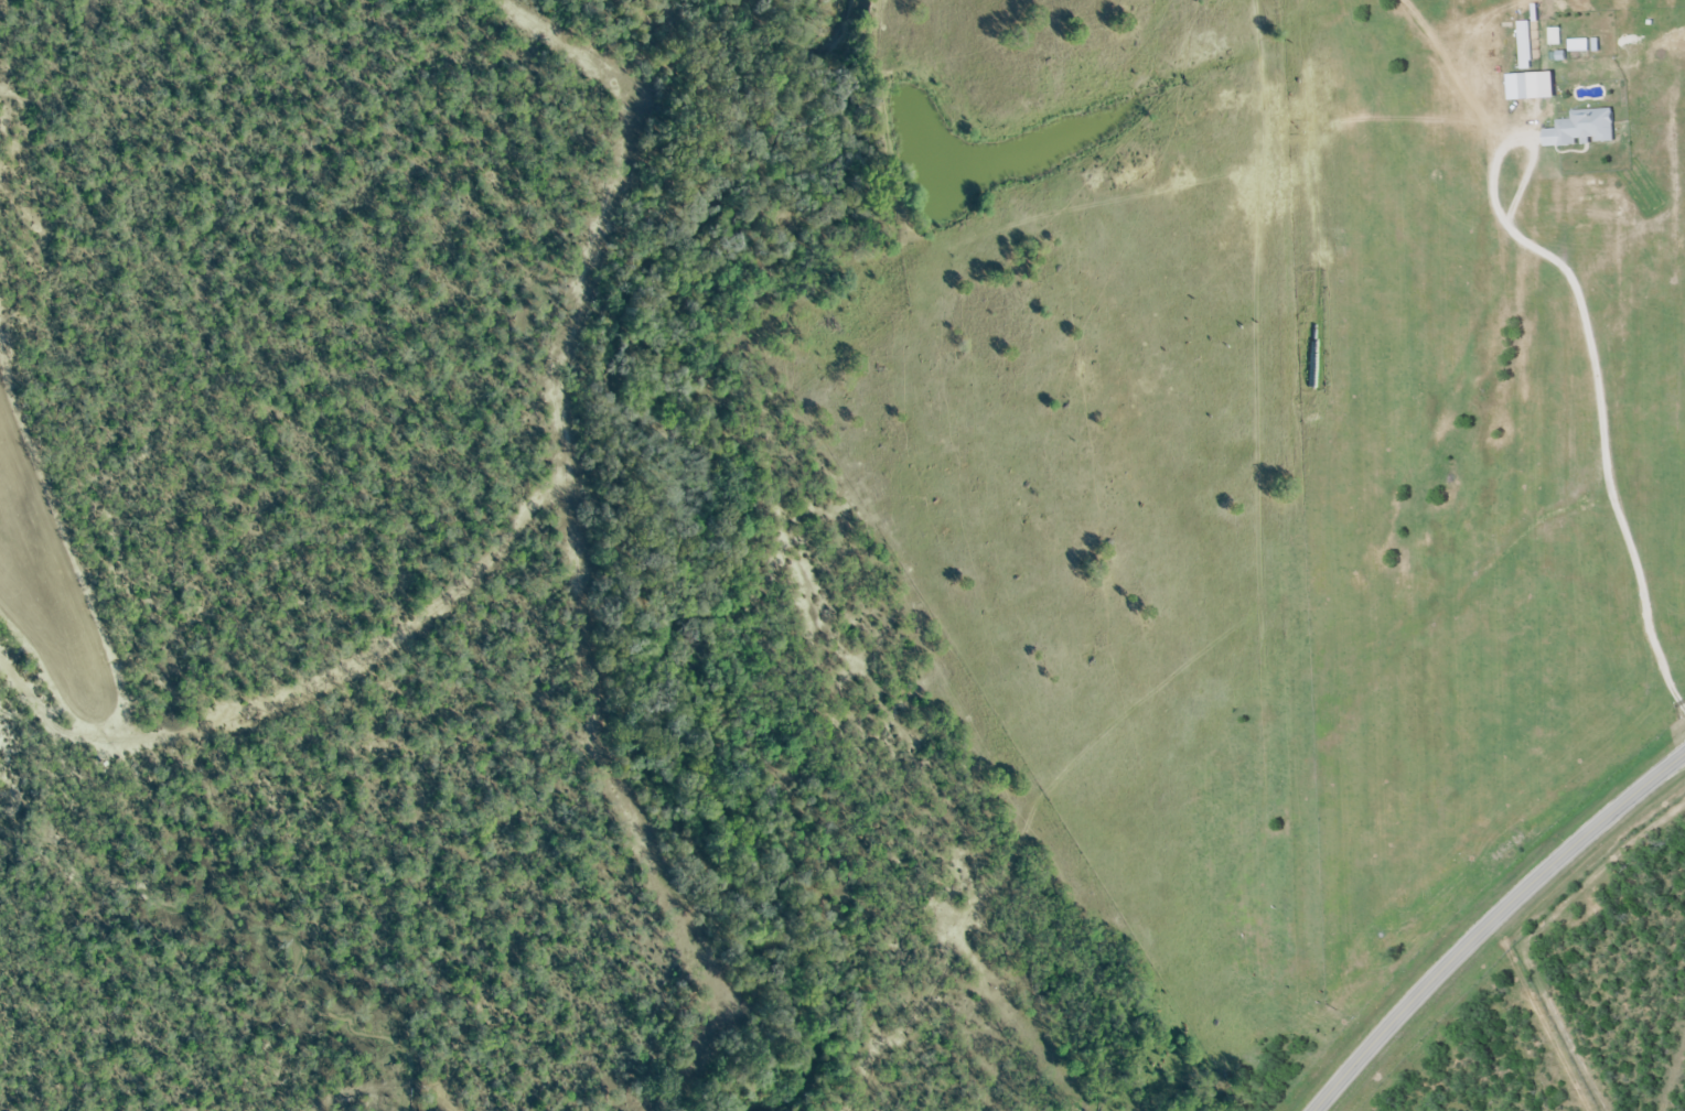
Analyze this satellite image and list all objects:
building: (1536, 86)
building: (1581, 129)
road: (1523, 181)
road: (1600, 401)
road: (1490, 921)

